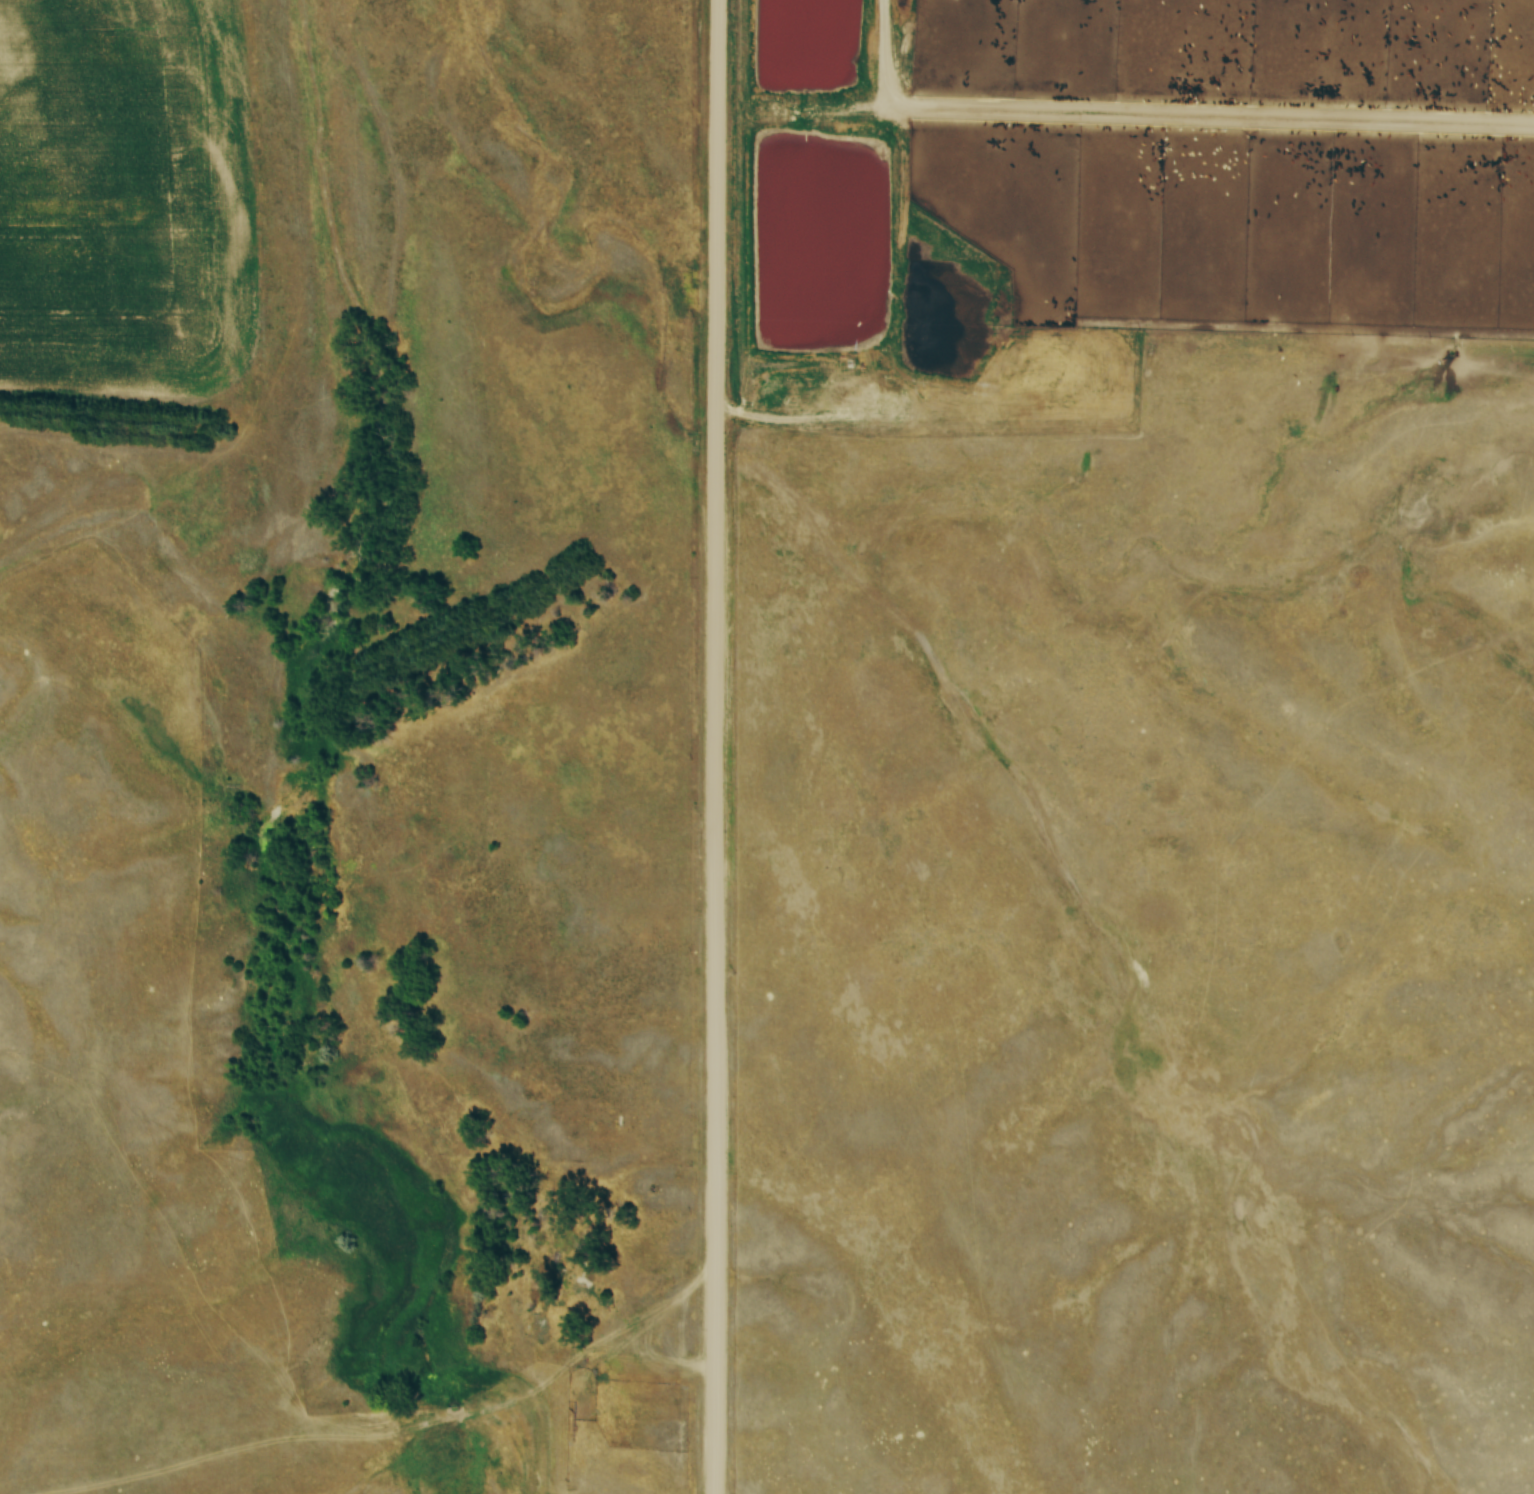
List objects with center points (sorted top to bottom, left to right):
road: (1156, 118)
crop: (127, 199)
road: (715, 747)

